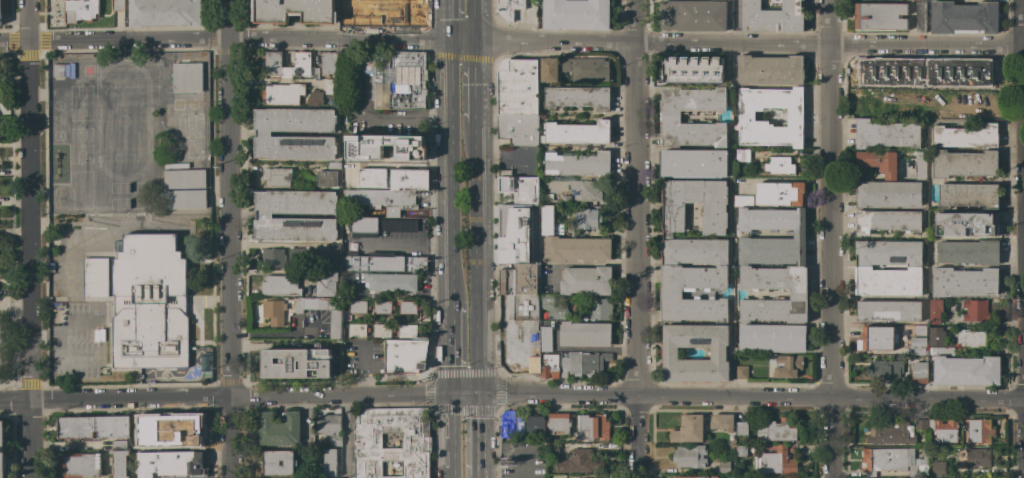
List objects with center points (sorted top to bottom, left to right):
building: (117, 5)
building: (0, 7)
building: (510, 8)
building: (79, 10)
building: (293, 11)
building: (165, 13)
building: (383, 13)
building: (576, 14)
building: (502, 15)
building: (692, 15)
building: (880, 16)
building: (772, 17)
building: (920, 17)
building: (964, 17)
road: (450, 19)
road: (469, 19)
road: (1021, 23)
road: (413, 39)
road: (924, 46)
road: (1023, 47)
building: (366, 62)
building: (273, 63)
building: (329, 63)
building: (933, 69)
building: (548, 70)
building: (589, 70)
building: (694, 70)
building: (770, 70)
building: (58, 71)
building: (564, 71)
building: (916, 72)
building: (315, 73)
building: (973, 73)
building: (879, 75)
building: (187, 77)
building: (404, 78)
road: (469, 80)
building: (948, 82)
building: (517, 87)
building: (331, 88)
building: (282, 93)
building: (913, 93)
building: (577, 97)
building: (314, 98)
building: (974, 101)
building: (878, 103)
road: (390, 113)
road: (438, 113)
building: (940, 113)
building: (746, 116)
building: (669, 117)
building: (518, 129)
building: (576, 133)
building: (263, 134)
building: (886, 134)
building: (965, 136)
building: (381, 147)
building: (742, 155)
building: (878, 162)
building: (577, 163)
building: (693, 163)
building: (964, 164)
building: (333, 165)
building: (777, 165)
building: (920, 169)
road: (450, 170)
building: (276, 177)
building: (372, 177)
building: (184, 178)
building: (325, 178)
building: (409, 179)
building: (347, 184)
building: (519, 187)
building: (584, 191)
building: (779, 193)
building: (888, 194)
building: (968, 195)
building: (564, 198)
building: (185, 199)
building: (383, 199)
building: (742, 201)
building: (264, 216)
building: (586, 218)
building: (886, 220)
building: (549, 221)
road: (1022, 223)
building: (965, 224)
building: (714, 225)
building: (343, 226)
building: (378, 226)
road: (28, 238)
road: (829, 238)
road: (230, 239)
road: (635, 239)
road: (405, 243)
road: (276, 245)
building: (576, 249)
building: (332, 252)
building: (968, 252)
building: (298, 254)
road: (473, 256)
building: (273, 258)
building: (382, 262)
building: (743, 265)
building: (863, 268)
building: (96, 277)
building: (518, 280)
building: (586, 280)
building: (964, 281)
building: (390, 282)
building: (326, 283)
building: (282, 285)
building: (671, 294)
building: (149, 304)
building: (358, 306)
road: (14, 307)
building: (381, 307)
building: (407, 307)
building: (526, 307)
building: (553, 308)
building: (599, 308)
building: (273, 310)
building: (889, 311)
building: (935, 311)
building: (975, 311)
building: (336, 319)
building: (352, 330)
building: (381, 330)
building: (408, 330)
building: (919, 330)
building: (584, 334)
building: (937, 335)
building: (969, 337)
building: (771, 338)
building: (877, 338)
building: (545, 339)
building: (918, 341)
road: (450, 347)
building: (718, 353)
building: (404, 355)
building: (593, 361)
building: (296, 363)
building: (570, 364)
building: (785, 365)
building: (549, 366)
building: (884, 369)
building: (965, 369)
building: (533, 370)
building: (741, 372)
building: (919, 372)
traffic signals: (451, 392)
traffic signals: (477, 392)
road: (511, 392)
building: (722, 422)
building: (558, 423)
building: (506, 424)
building: (519, 424)
building: (922, 424)
building: (535, 425)
building: (931, 425)
building: (92, 427)
building: (329, 427)
building: (592, 427)
building: (741, 428)
building: (278, 429)
building: (688, 429)
building: (946, 430)
building: (979, 430)
building: (776, 431)
road: (476, 432)
building: (891, 433)
building: (172, 434)
road: (451, 435)
road: (345, 437)
road: (1022, 438)
building: (415, 442)
building: (119, 445)
building: (134, 446)
building: (552, 448)
building: (1, 450)
building: (741, 450)
building: (689, 456)
building: (978, 458)
building: (578, 461)
building: (894, 461)
building: (775, 462)
building: (278, 463)
building: (329, 463)
building: (120, 464)
building: (79, 465)
building: (171, 465)
building: (724, 467)
building: (938, 469)
road: (476, 476)
building: (691, 477)
building: (767, 477)
building: (790, 477)

